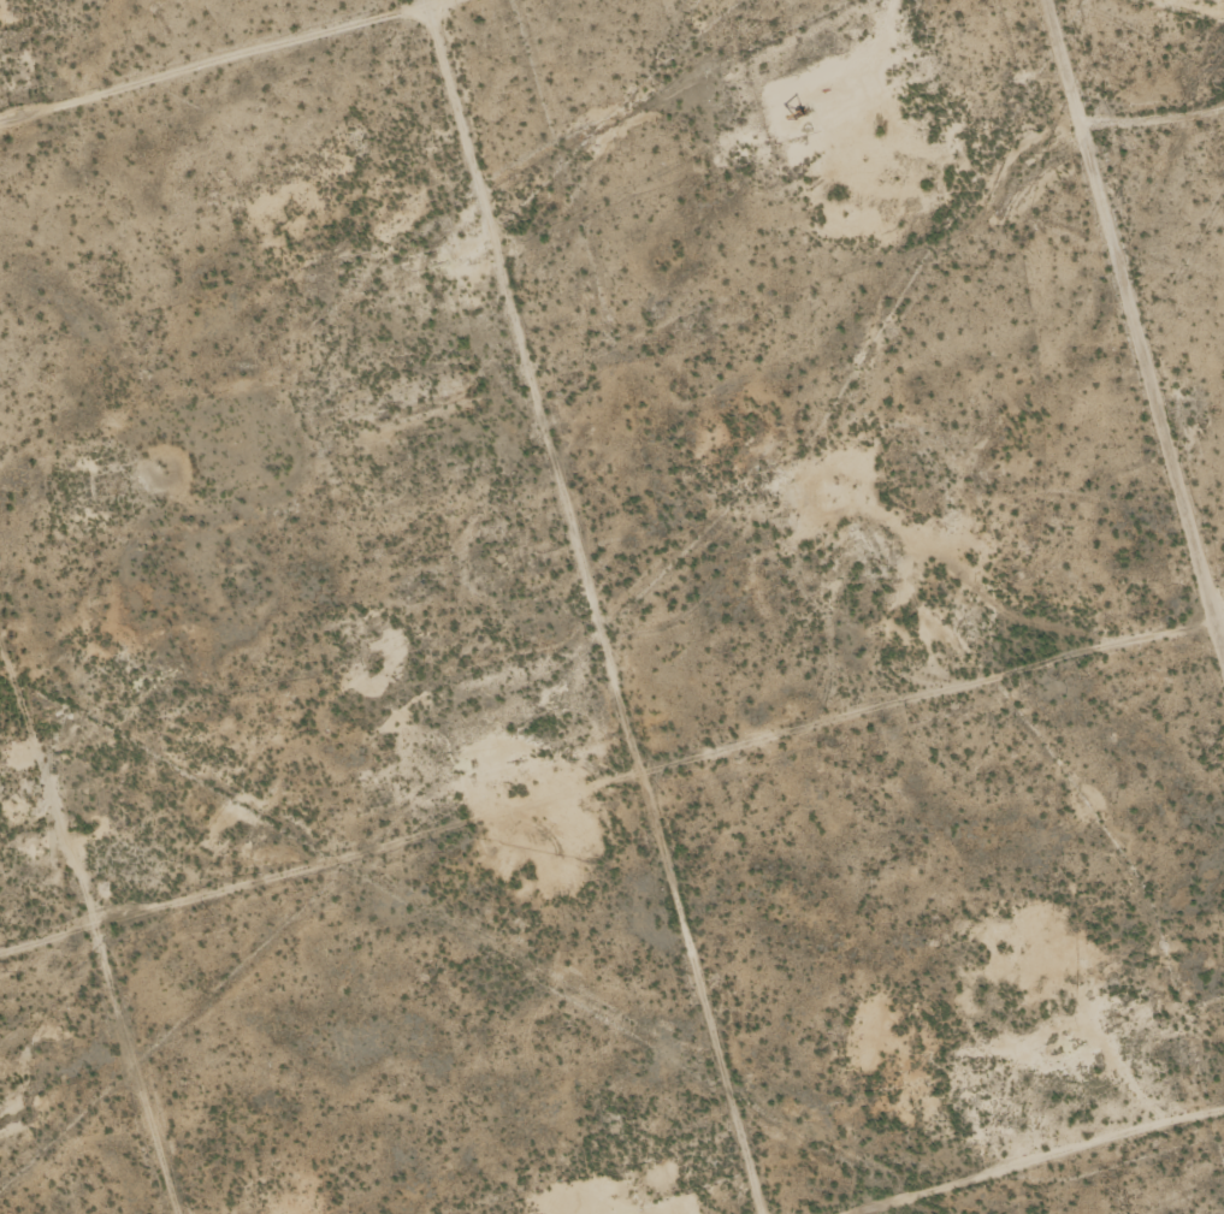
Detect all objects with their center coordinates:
road: (1142, 297)
road: (593, 606)
road: (1029, 1153)

